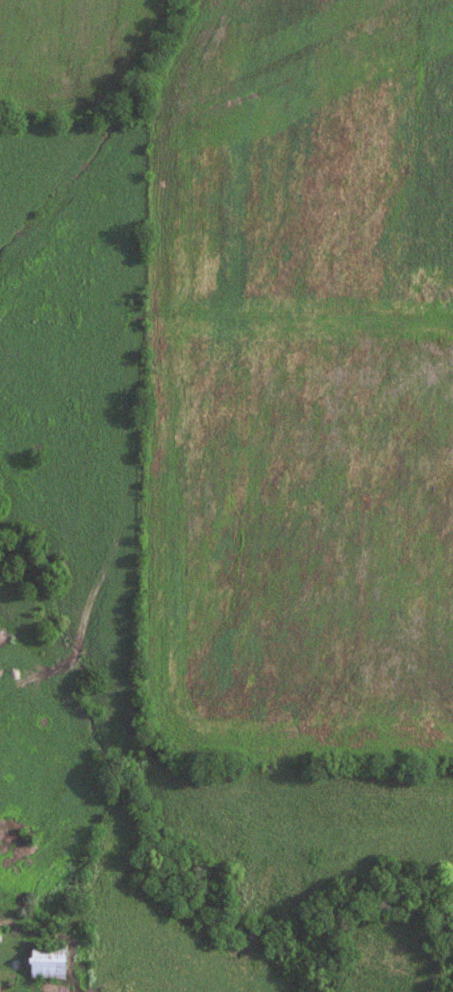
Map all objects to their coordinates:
building: (49, 960)

